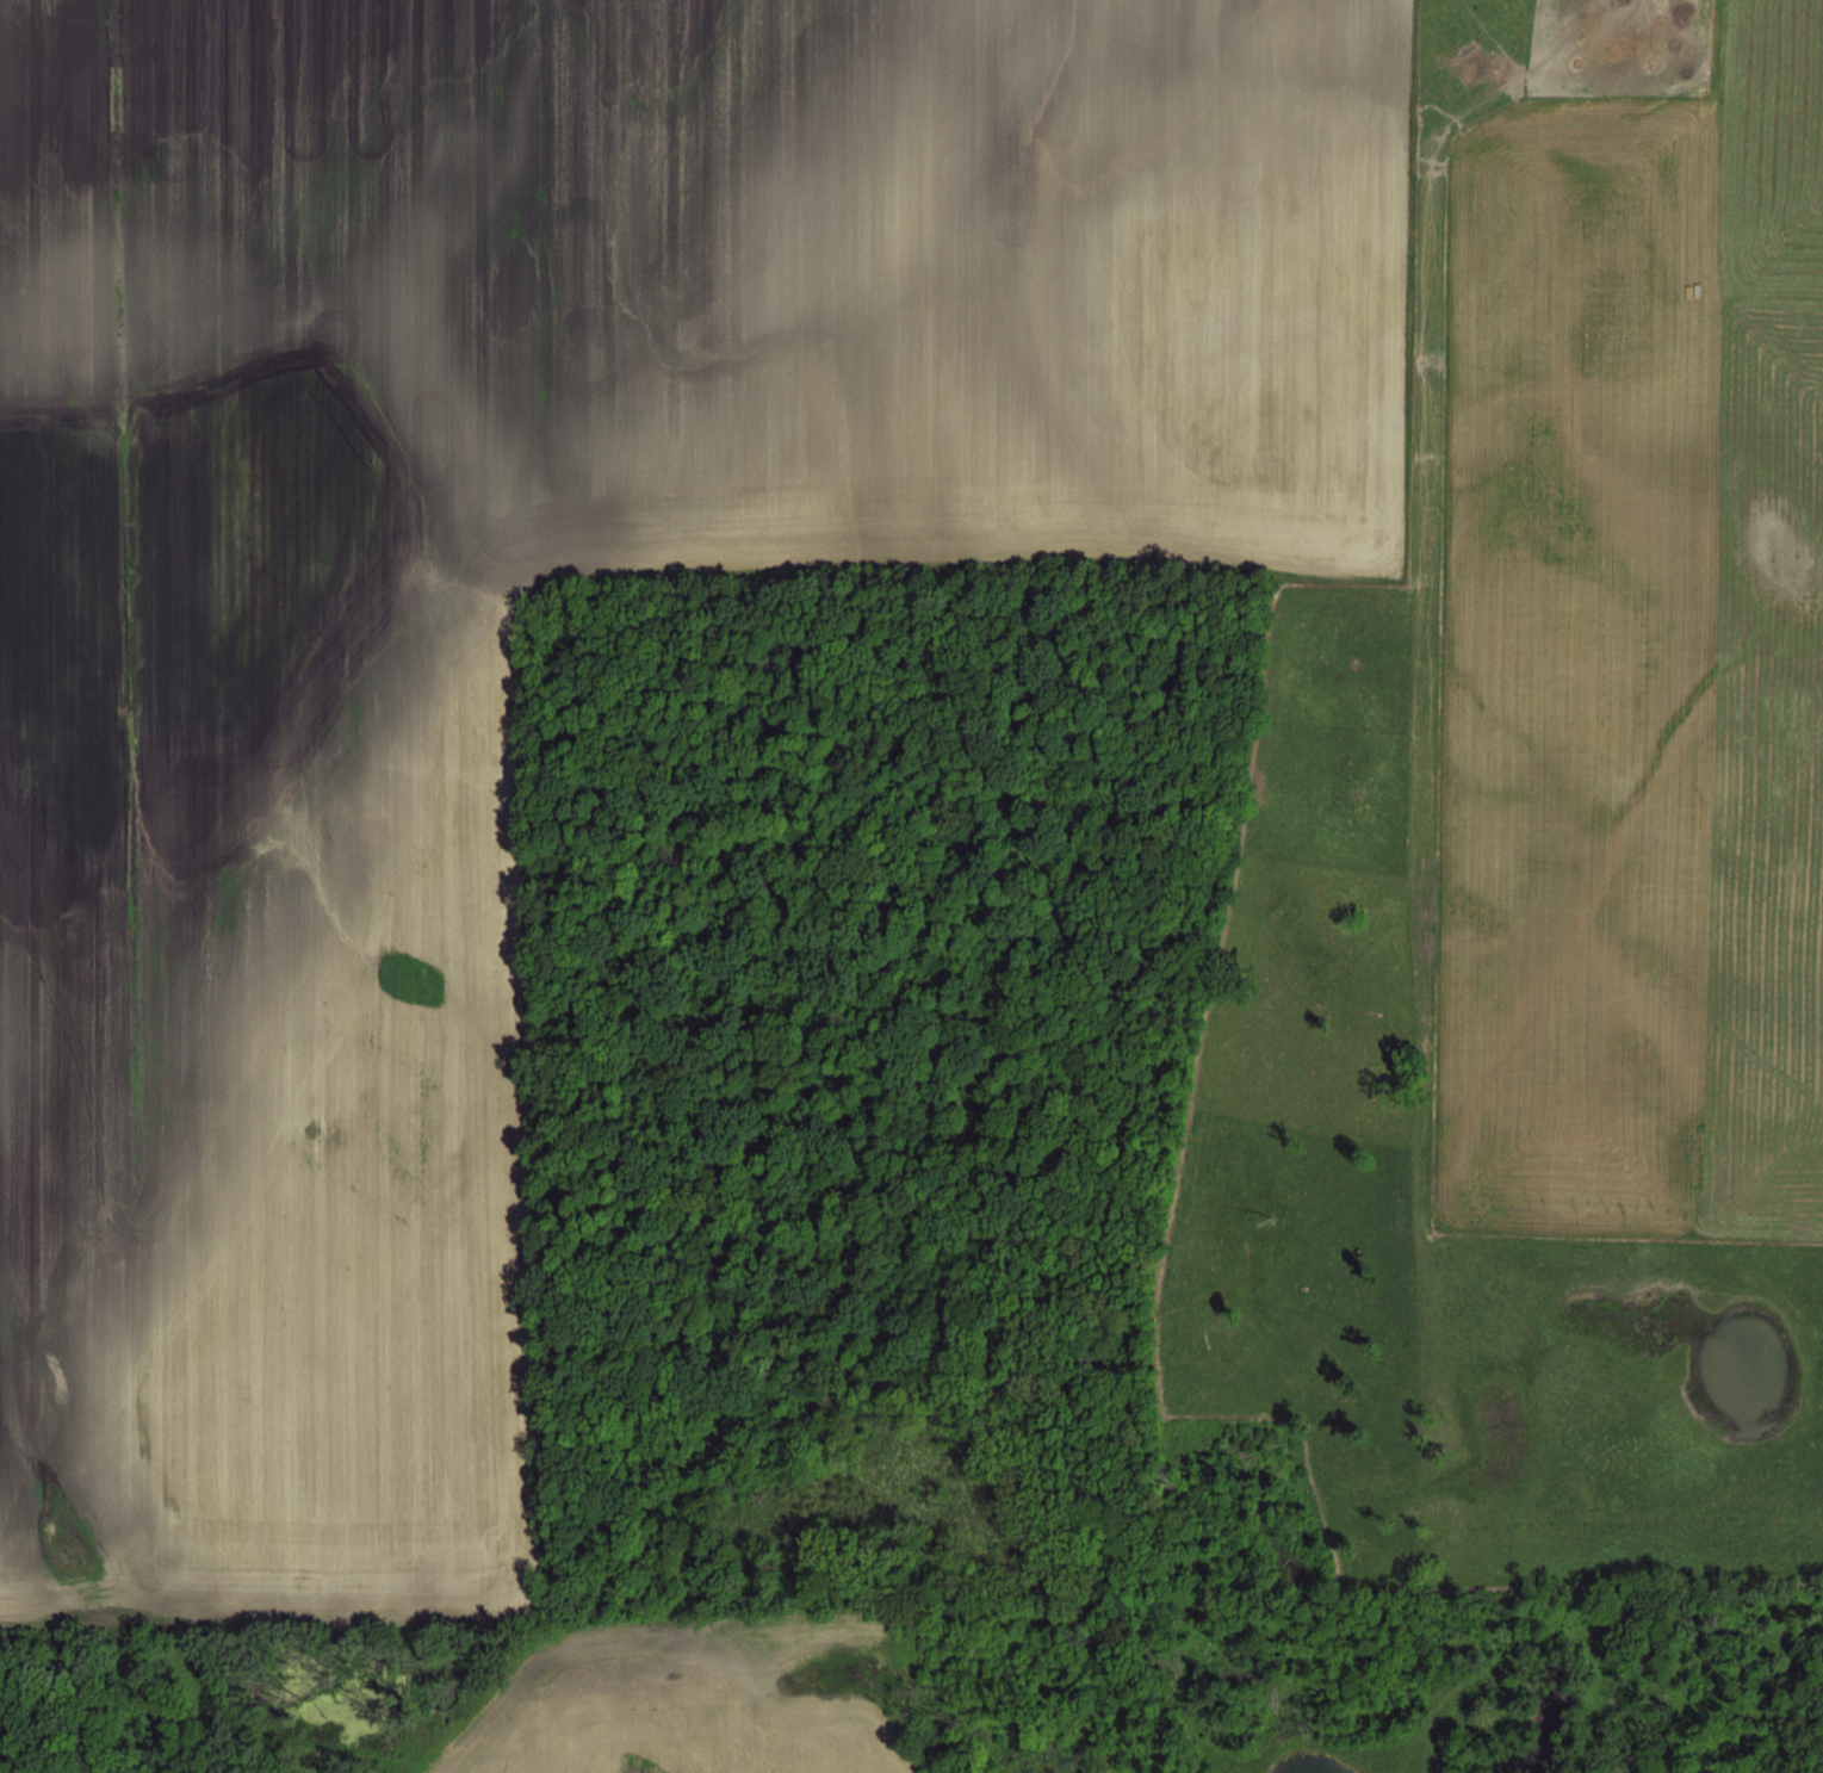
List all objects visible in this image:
crop: (911, 886)

